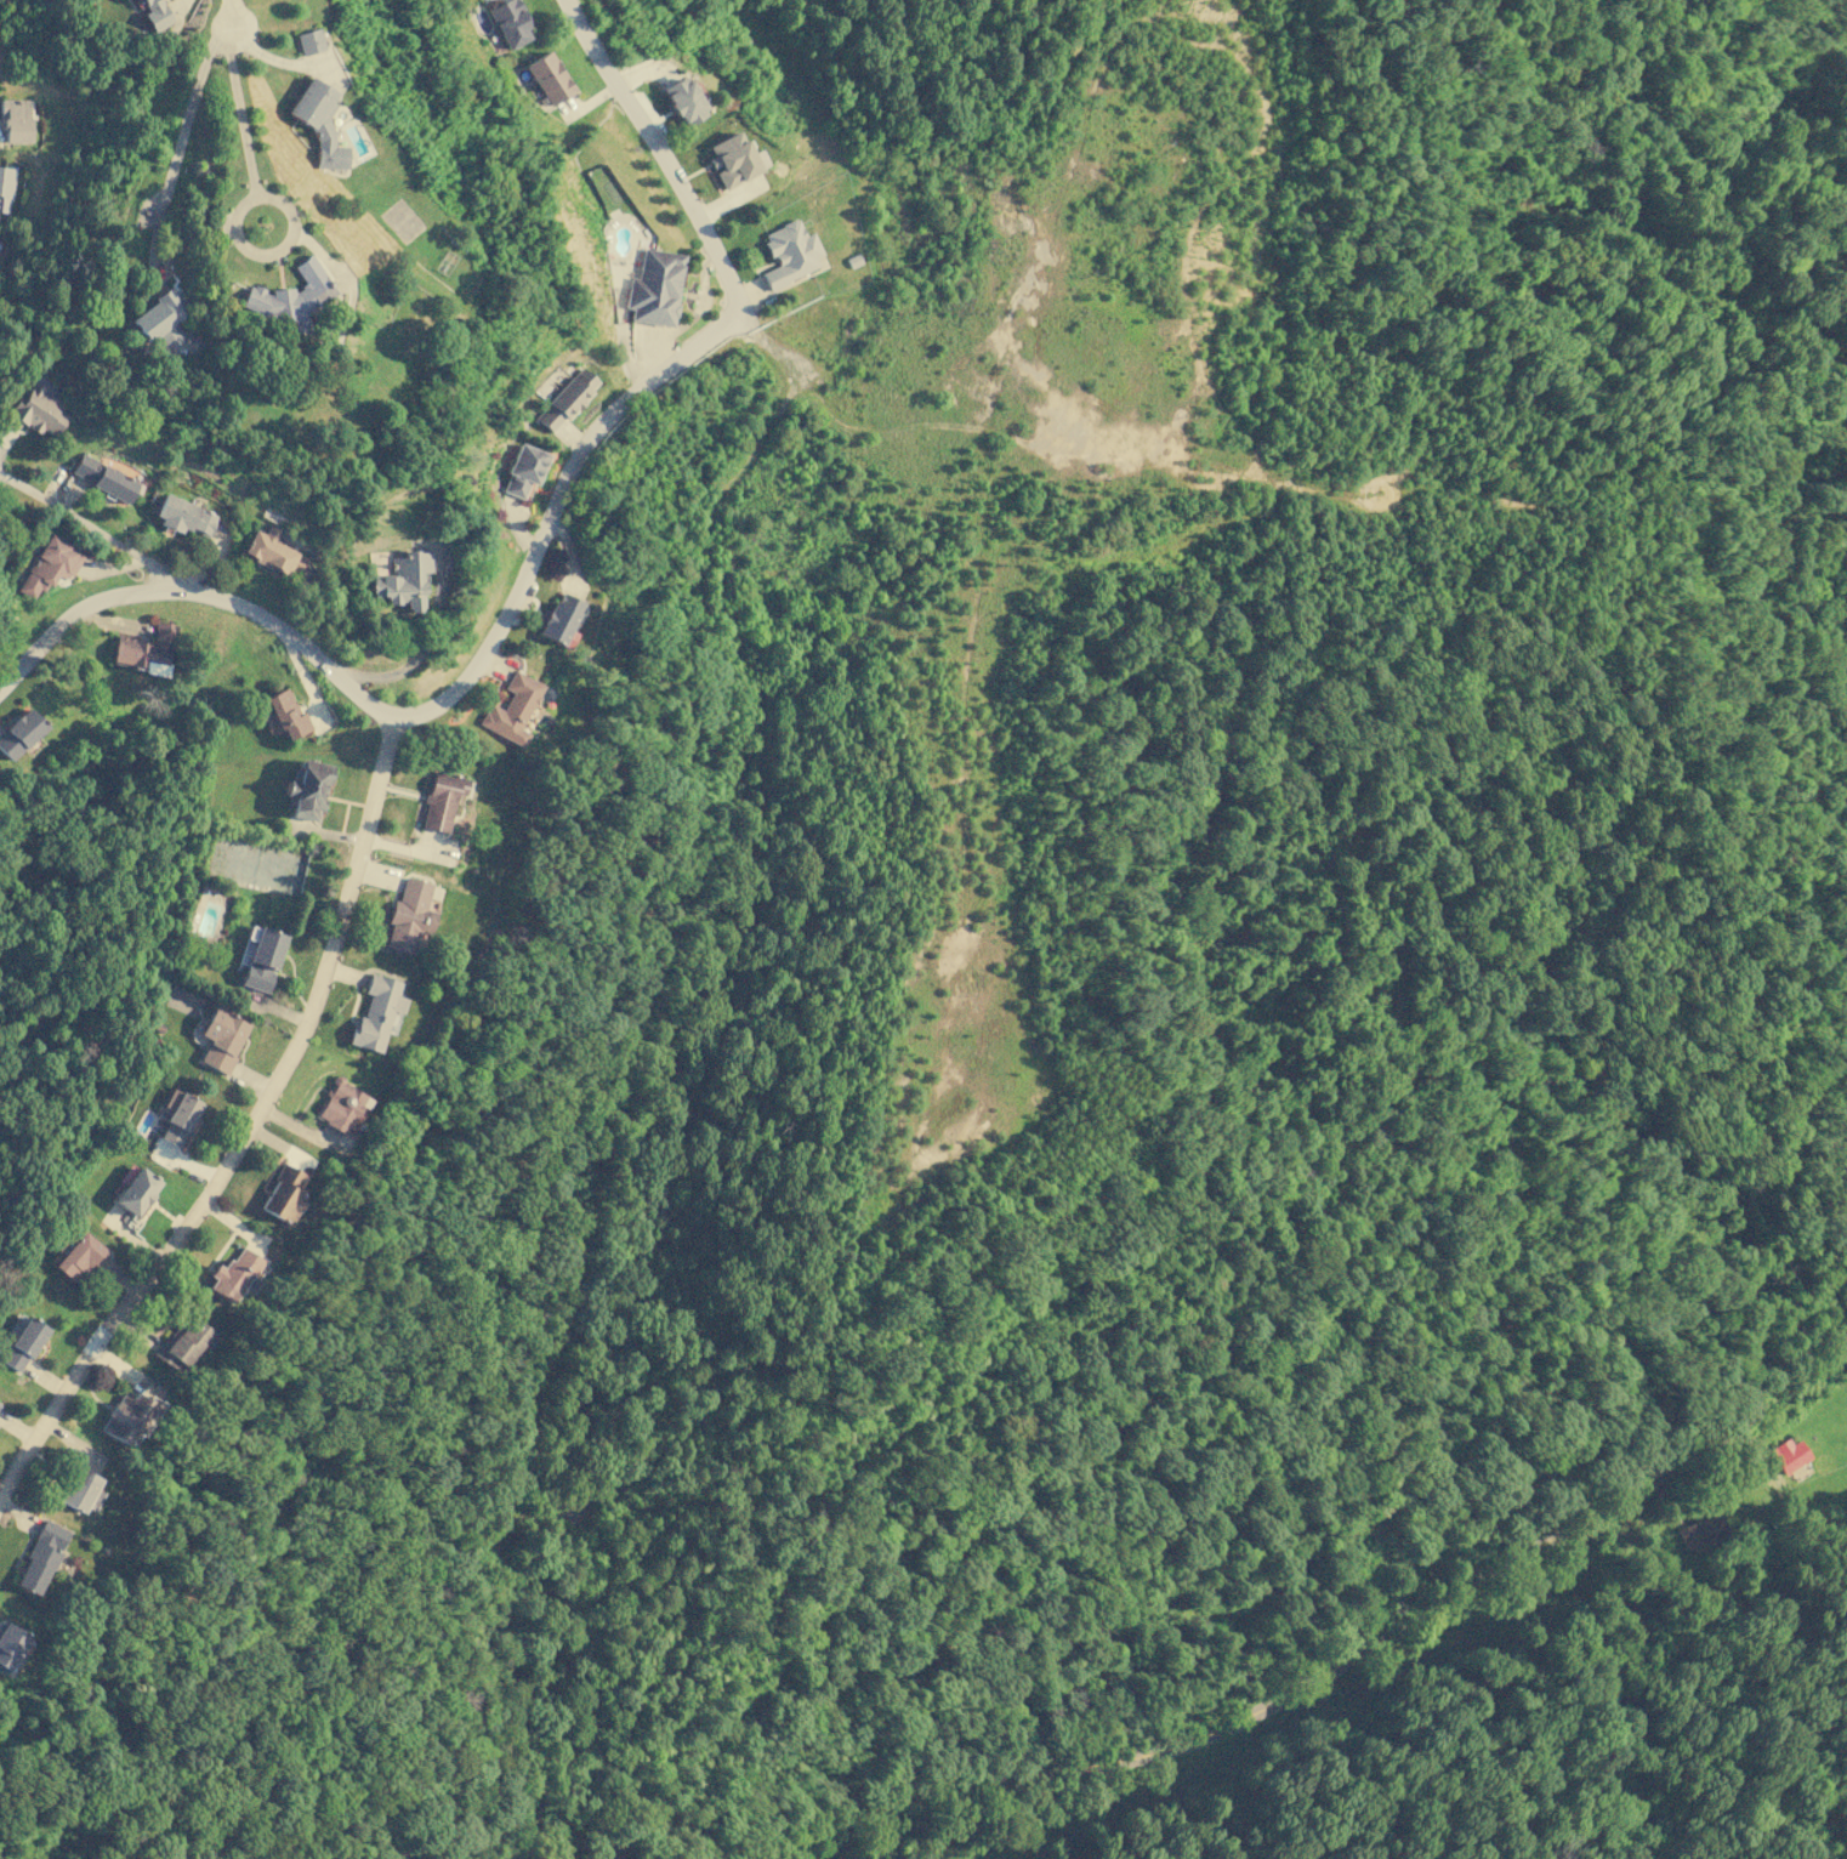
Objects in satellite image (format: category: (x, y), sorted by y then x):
building: (155, 13)
road: (232, 16)
building: (508, 23)
road: (227, 38)
building: (309, 40)
building: (547, 78)
building: (682, 101)
building: (13, 120)
building: (319, 123)
road: (658, 155)
building: (733, 159)
building: (4, 187)
road: (235, 212)
building: (789, 252)
building: (653, 286)
building: (291, 296)
building: (160, 318)
building: (564, 399)
building: (38, 409)
building: (522, 468)
building: (102, 477)
building: (181, 515)
road: (89, 528)
building: (272, 551)
building: (47, 565)
building: (403, 580)
building: (559, 619)
building: (144, 649)
building: (511, 709)
road: (437, 714)
building: (285, 715)
building: (17, 733)
building: (307, 789)
building: (441, 800)
building: (408, 915)
building: (261, 959)
building: (375, 1012)
building: (221, 1039)
road: (648, 1065)
building: (339, 1105)
building: (177, 1115)
road: (252, 1137)
building: (136, 1190)
building: (282, 1193)
building: (78, 1256)
building: (232, 1274)
building: (182, 1343)
building: (124, 1416)
building: (1789, 1455)
building: (80, 1490)
building: (1701, 1530)
building: (40, 1557)
building: (8, 1644)
road: (1328, 1673)

